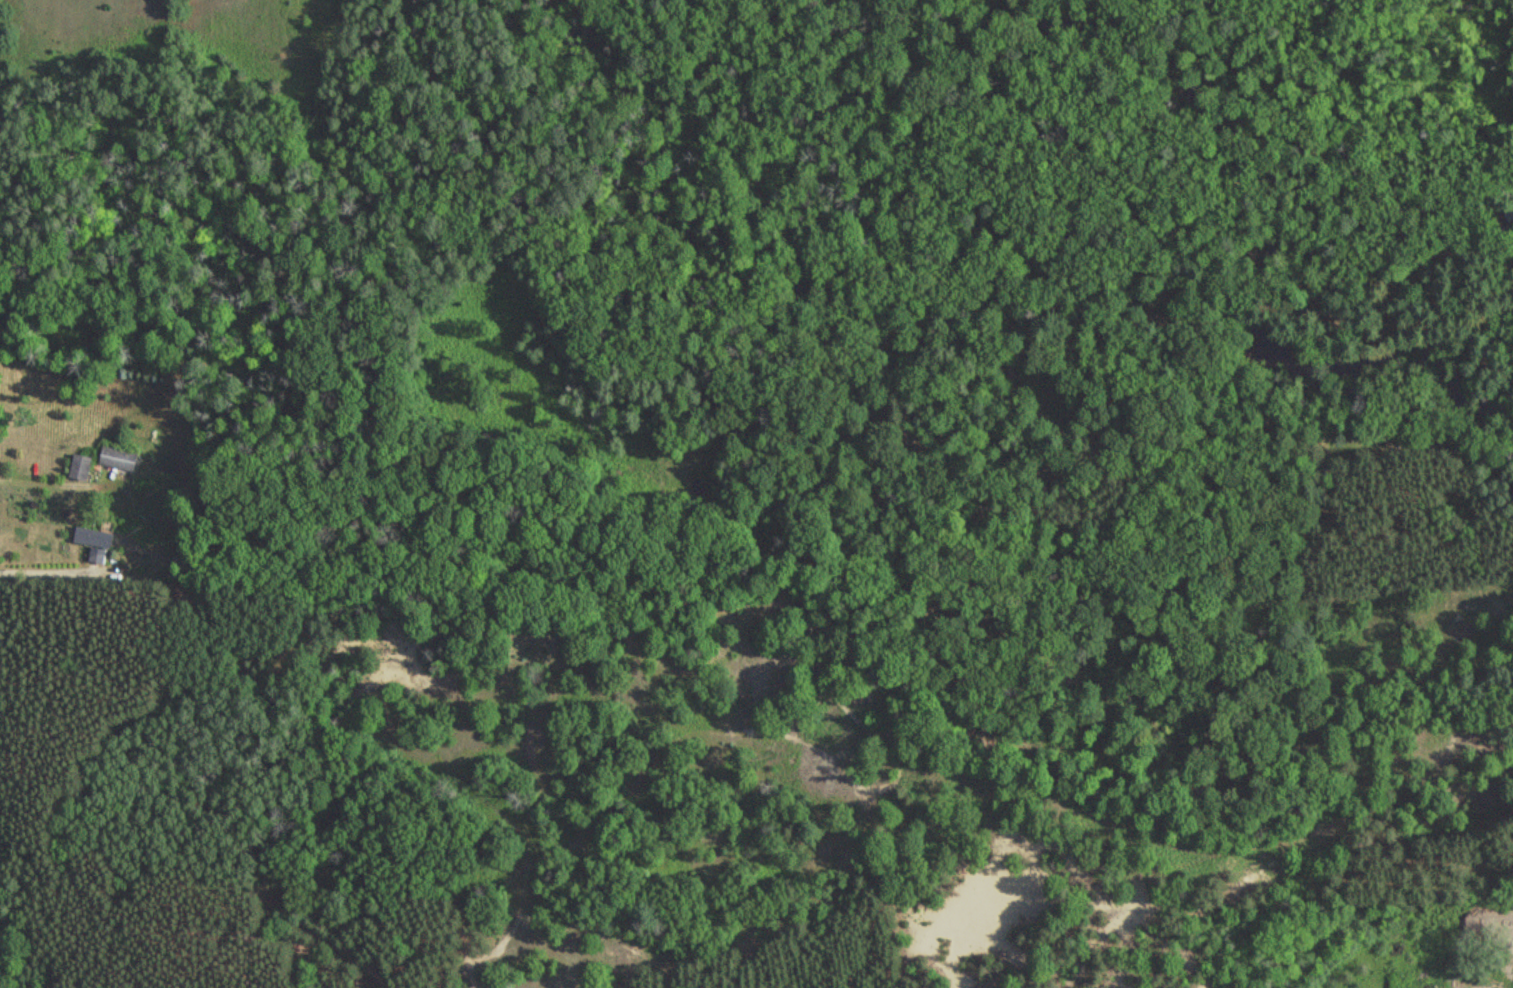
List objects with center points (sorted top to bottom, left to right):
building: (122, 458)
building: (83, 466)
building: (90, 537)

